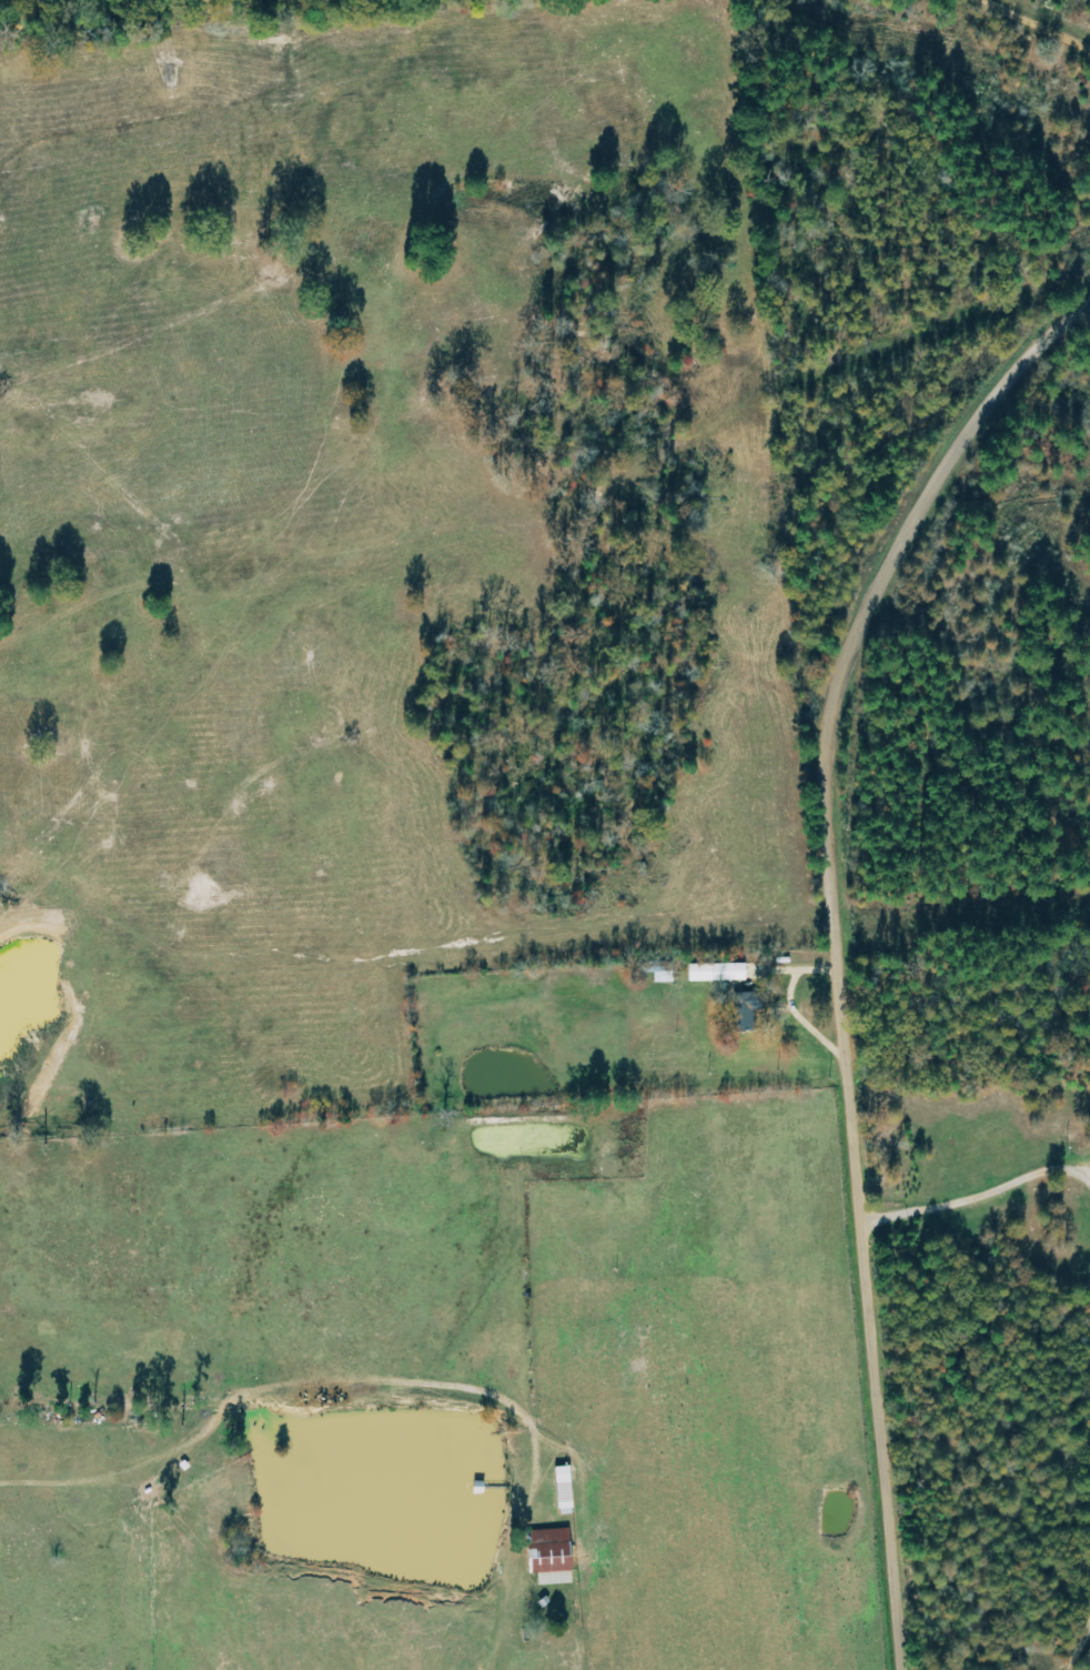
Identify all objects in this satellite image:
road: (836, 946)
building: (719, 974)
road: (793, 1002)
building: (748, 1010)
road: (978, 1194)
building: (553, 1557)
road: (1078, 1650)

